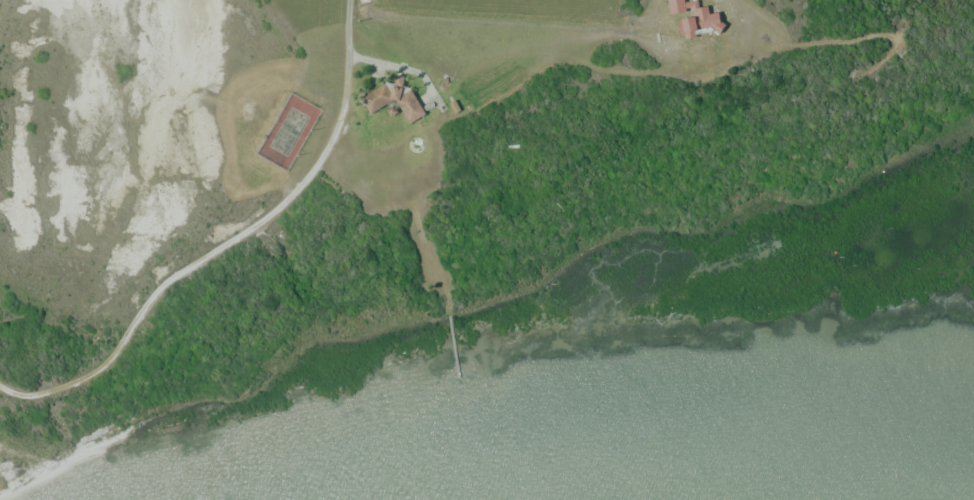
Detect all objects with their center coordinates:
building: (393, 99)
road: (233, 245)

